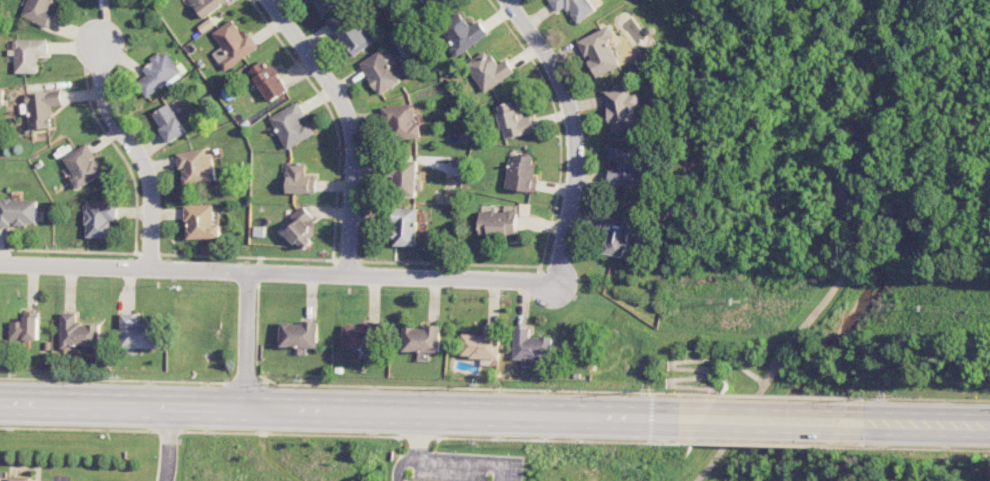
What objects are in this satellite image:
building: (428, 2)
building: (324, 5)
building: (206, 6)
building: (574, 8)
building: (38, 11)
building: (349, 31)
building: (461, 33)
road: (850, 43)
building: (232, 45)
building: (599, 51)
building: (28, 54)
building: (487, 70)
building: (158, 72)
building: (381, 72)
building: (268, 81)
building: (41, 108)
building: (622, 109)
building: (513, 120)
building: (170, 121)
building: (401, 122)
road: (348, 124)
building: (291, 125)
road: (572, 132)
road: (129, 141)
building: (623, 165)
building: (83, 166)
building: (197, 167)
building: (520, 173)
building: (402, 177)
building: (298, 179)
building: (17, 212)
building: (99, 219)
building: (201, 221)
building: (497, 223)
building: (404, 226)
building: (302, 228)
building: (616, 235)
road: (276, 271)
road: (826, 297)
building: (24, 327)
building: (77, 332)
building: (136, 333)
building: (299, 334)
building: (360, 336)
building: (419, 339)
road: (246, 340)
building: (481, 343)
building: (530, 346)
road: (691, 369)
power tower: (123, 377)
power tower: (307, 380)
power tower: (485, 385)
road: (478, 388)
power tower: (655, 389)
power tower: (896, 394)
road: (787, 396)
road: (924, 399)
road: (339, 411)
road: (774, 421)
road: (930, 425)
road: (168, 444)
building: (16, 479)
road: (59, 480)

